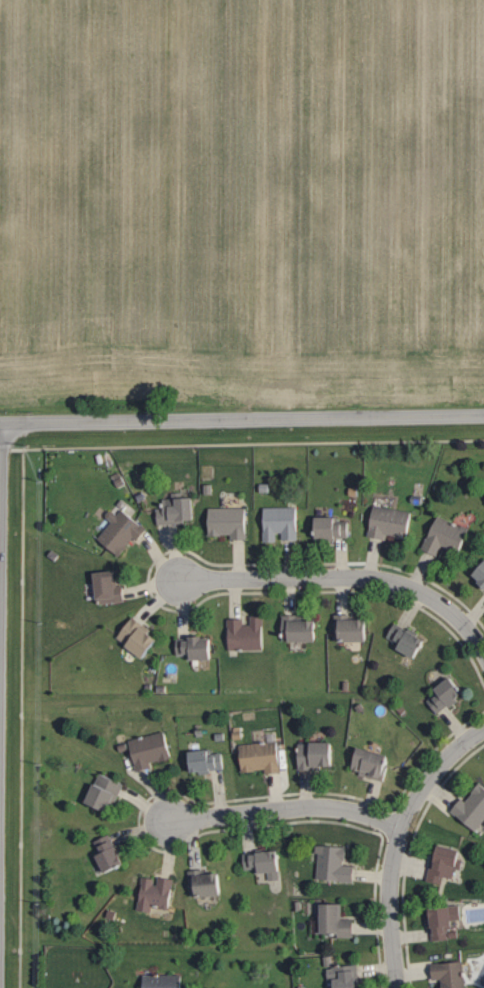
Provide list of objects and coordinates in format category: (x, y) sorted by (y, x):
road: (242, 419)
building: (177, 509)
building: (229, 522)
building: (391, 522)
building: (281, 524)
building: (333, 527)
building: (122, 531)
building: (447, 536)
building: (481, 577)
road: (345, 579)
building: (109, 587)
building: (300, 629)
building: (352, 629)
building: (247, 634)
building: (139, 638)
building: (406, 639)
building: (197, 647)
building: (446, 696)
building: (150, 750)
building: (317, 755)
building: (261, 757)
building: (207, 761)
building: (373, 763)
building: (106, 793)
road: (285, 809)
building: (472, 809)
road: (397, 842)
building: (109, 854)
building: (265, 863)
building: (335, 864)
building: (446, 864)
building: (206, 884)
building: (156, 893)
building: (337, 921)
building: (444, 921)
building: (450, 974)
building: (164, 981)

